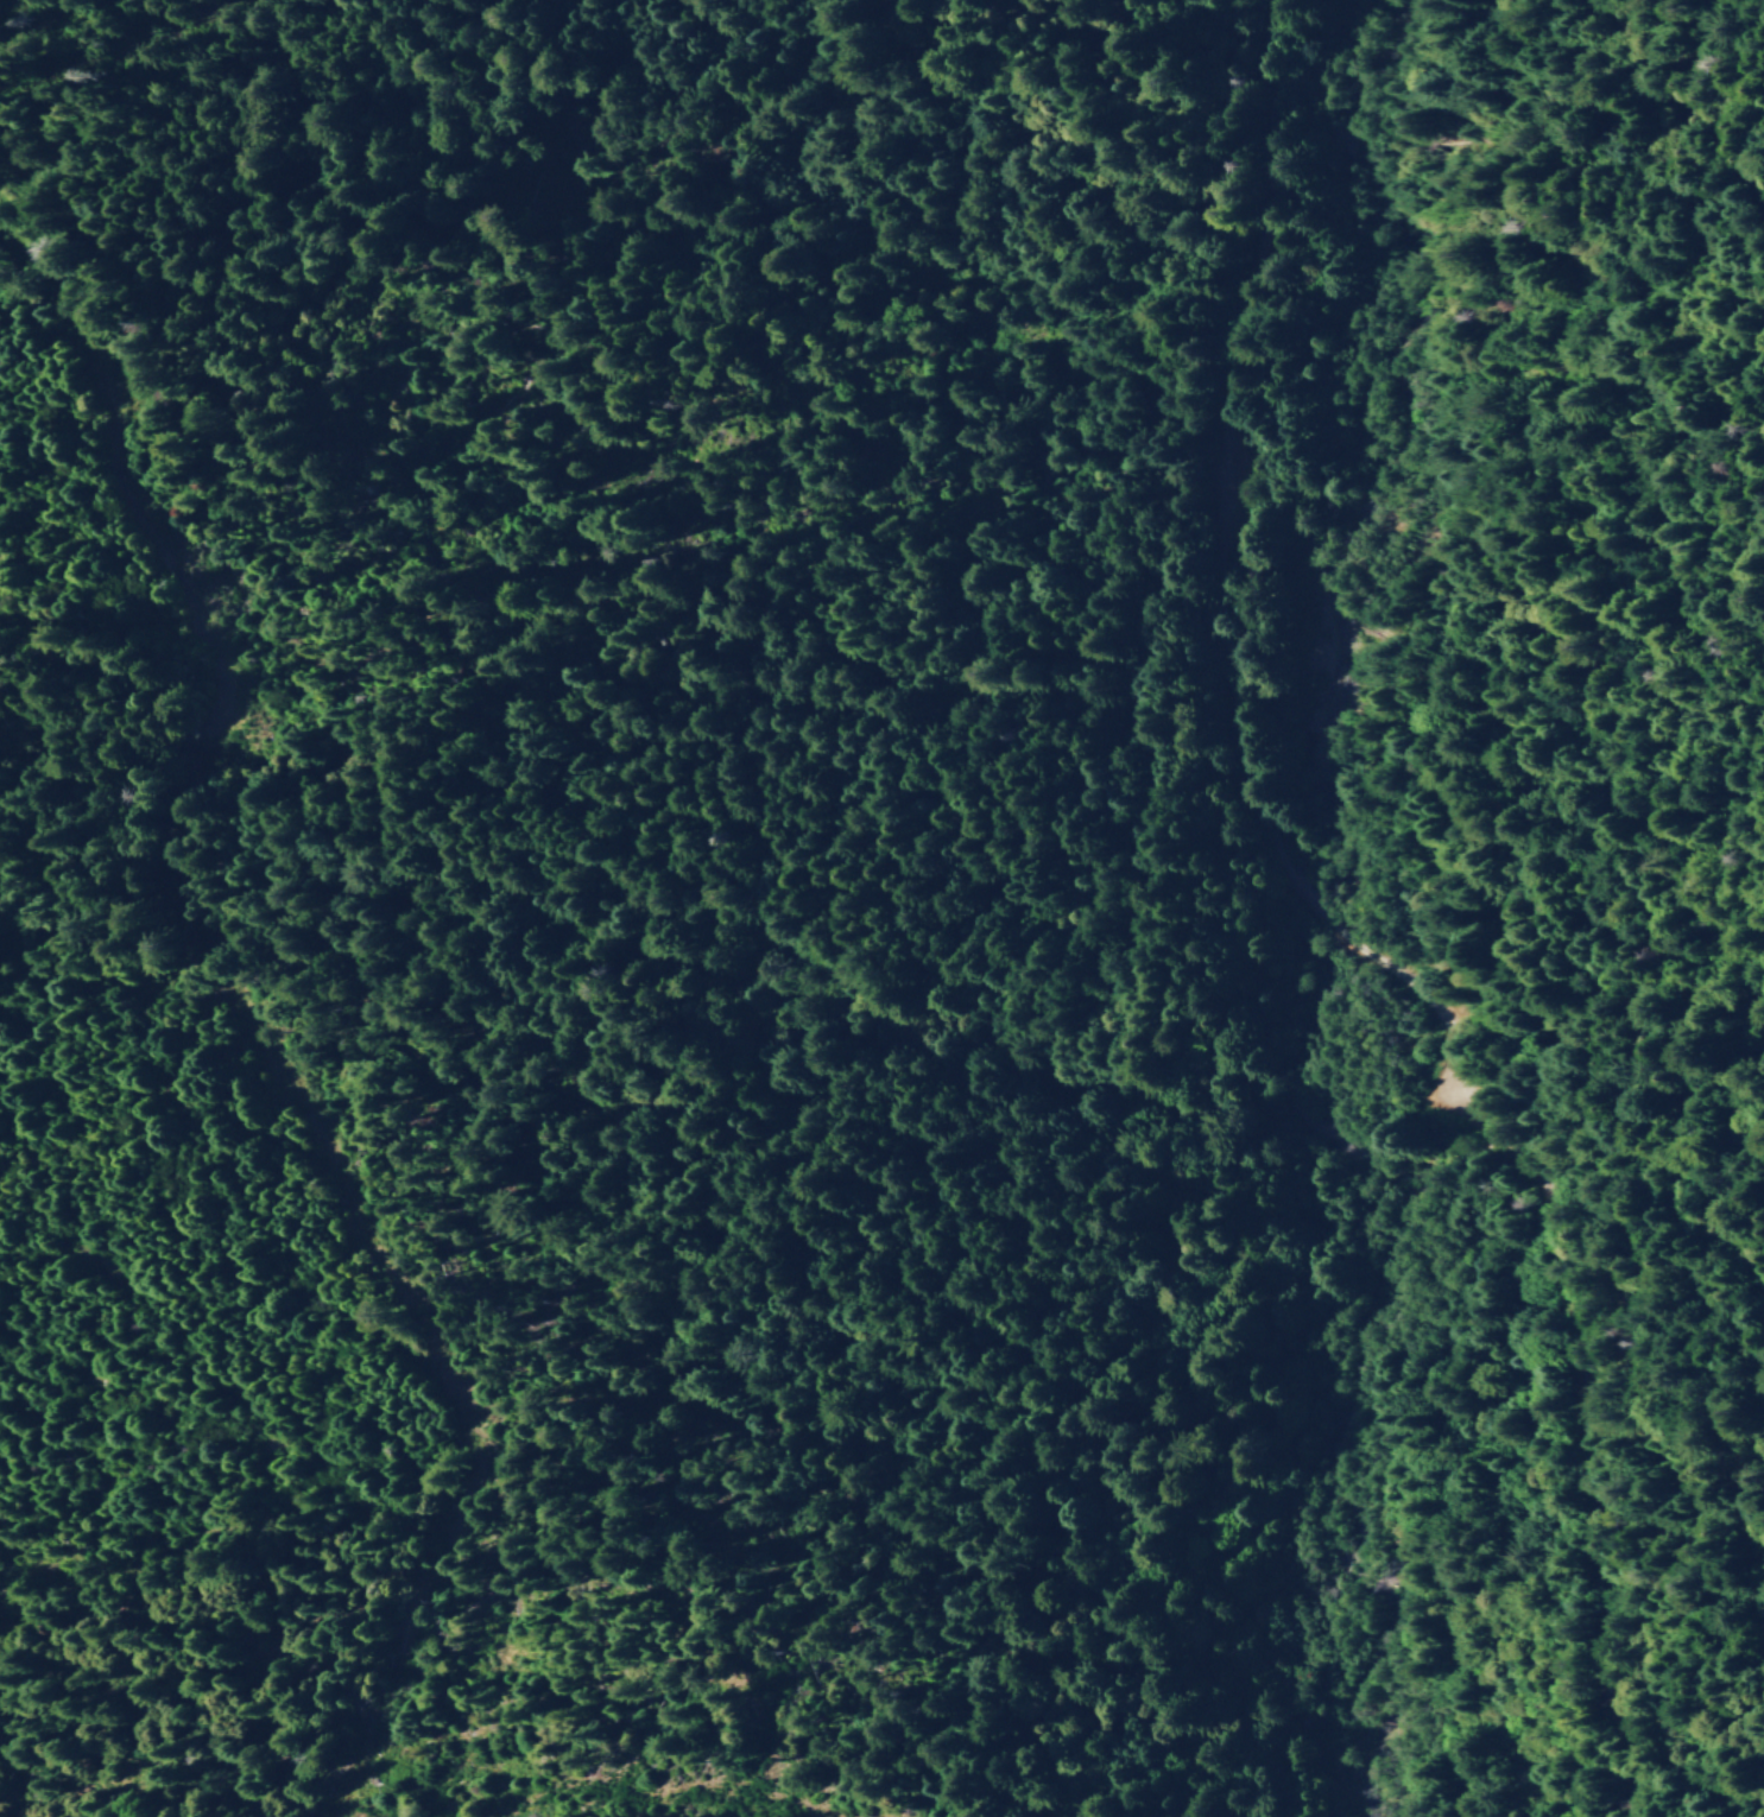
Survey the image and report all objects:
road: (1195, 905)
road: (1511, 1252)

